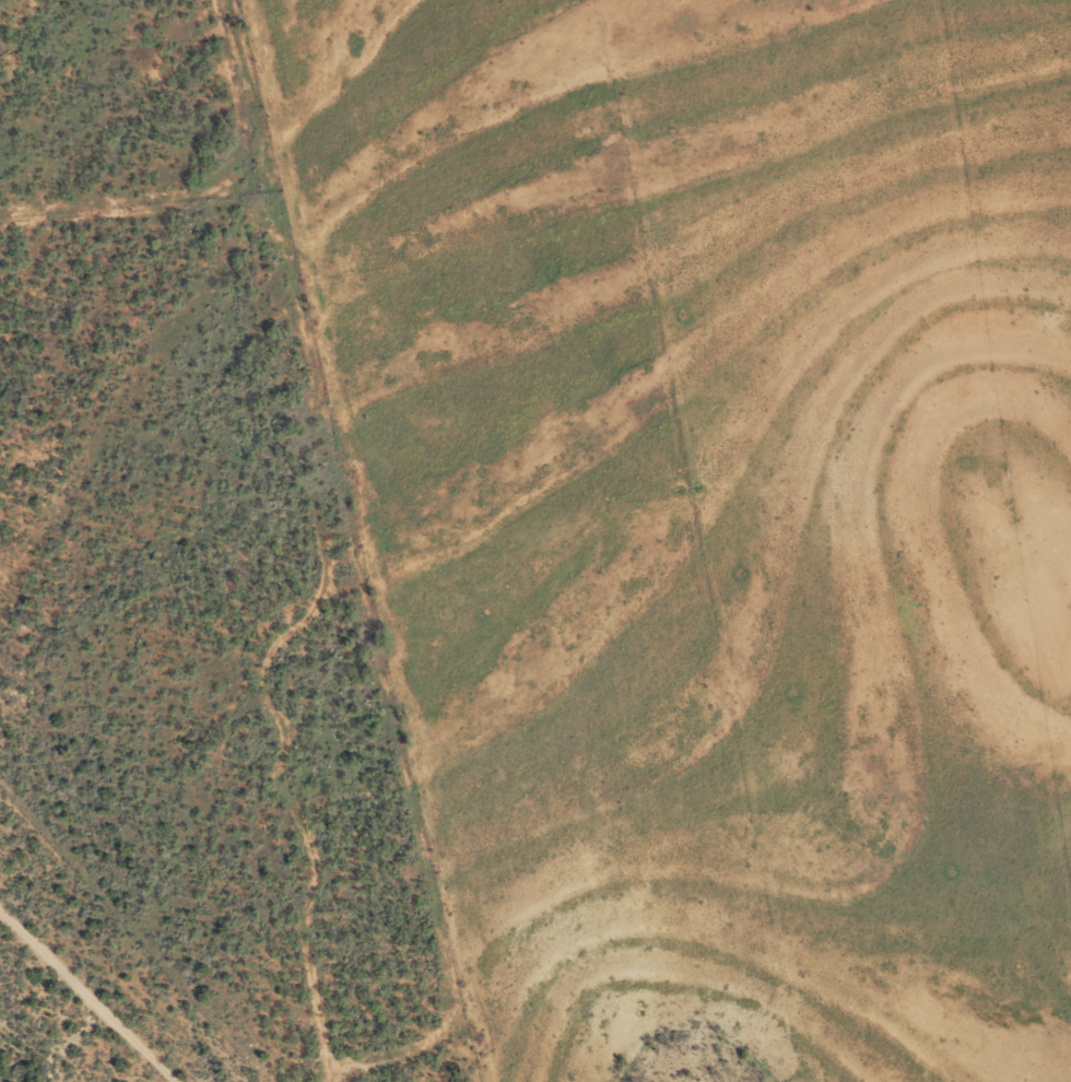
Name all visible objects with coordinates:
road: (86, 1002)

